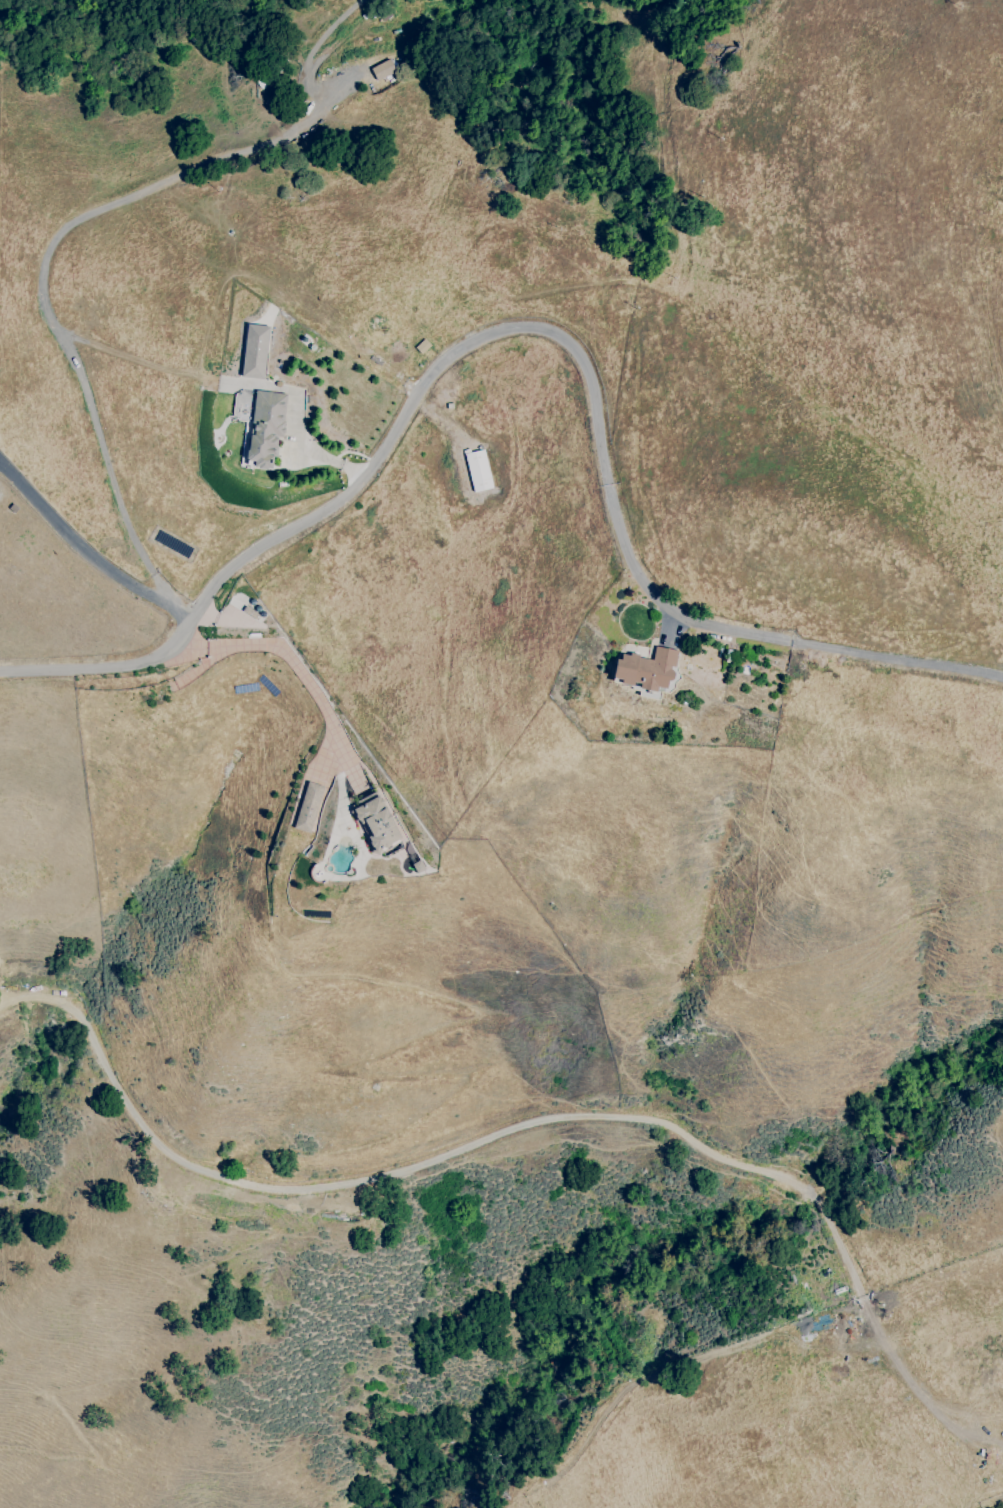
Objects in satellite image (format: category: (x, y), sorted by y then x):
building: (382, 70)
road: (41, 269)
road: (532, 329)
building: (254, 351)
building: (478, 471)
road: (73, 539)
road: (178, 611)
road: (287, 657)
building: (645, 669)
building: (307, 807)
building: (376, 824)
road: (7, 998)
road: (510, 1127)
road: (982, 1450)

